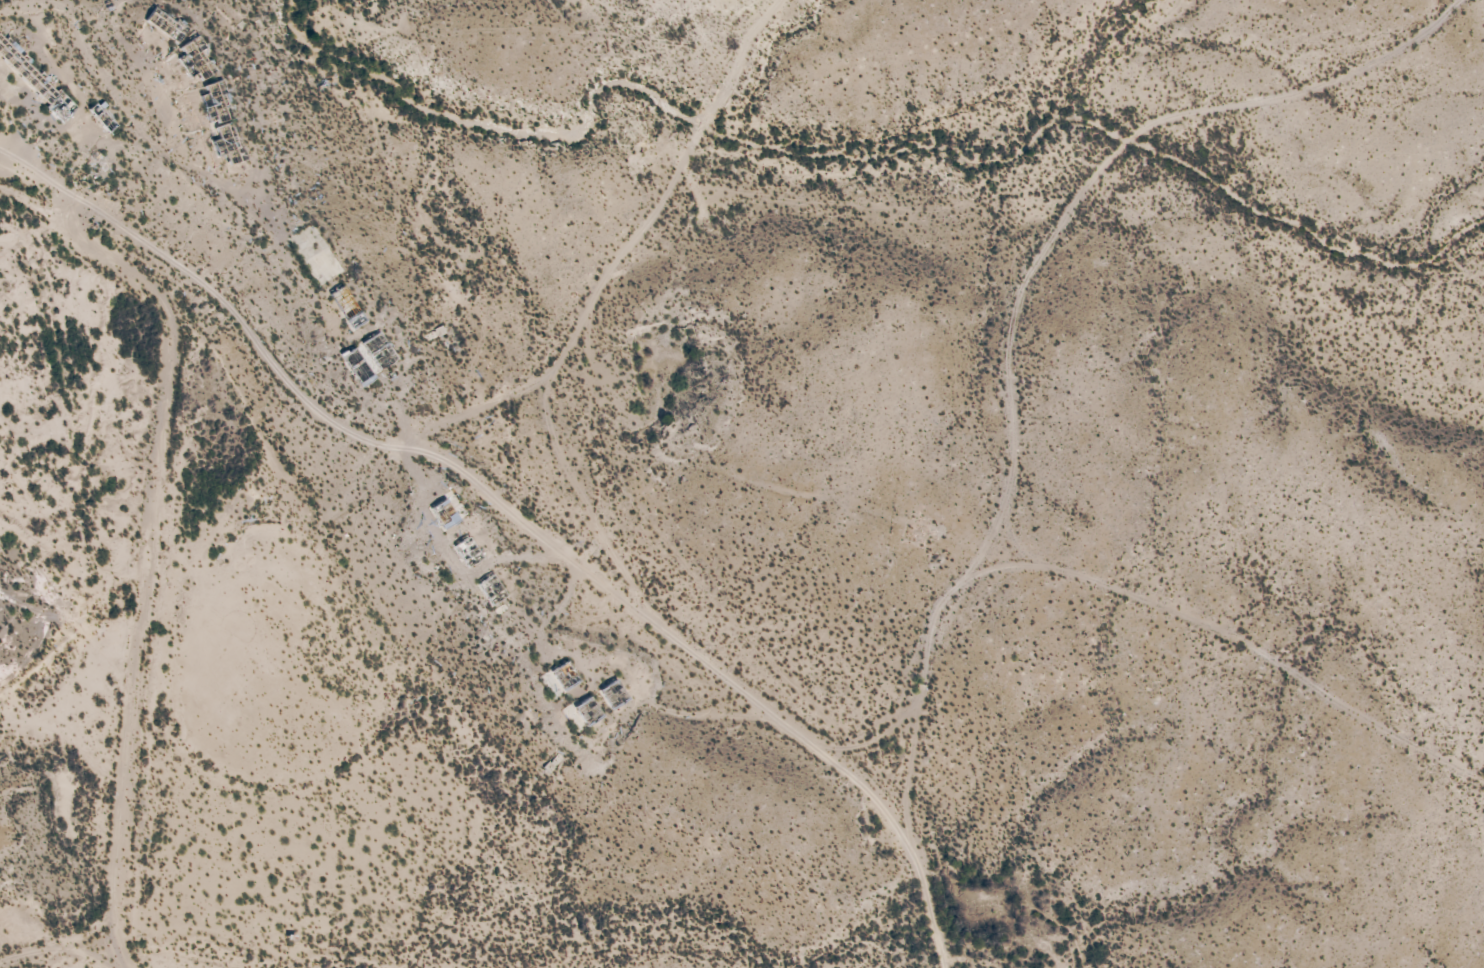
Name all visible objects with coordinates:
road: (122, 34)
building: (7, 51)
road: (55, 66)
building: (97, 110)
road: (175, 158)
road: (636, 257)
road: (1021, 302)
road: (519, 514)
road: (149, 598)

